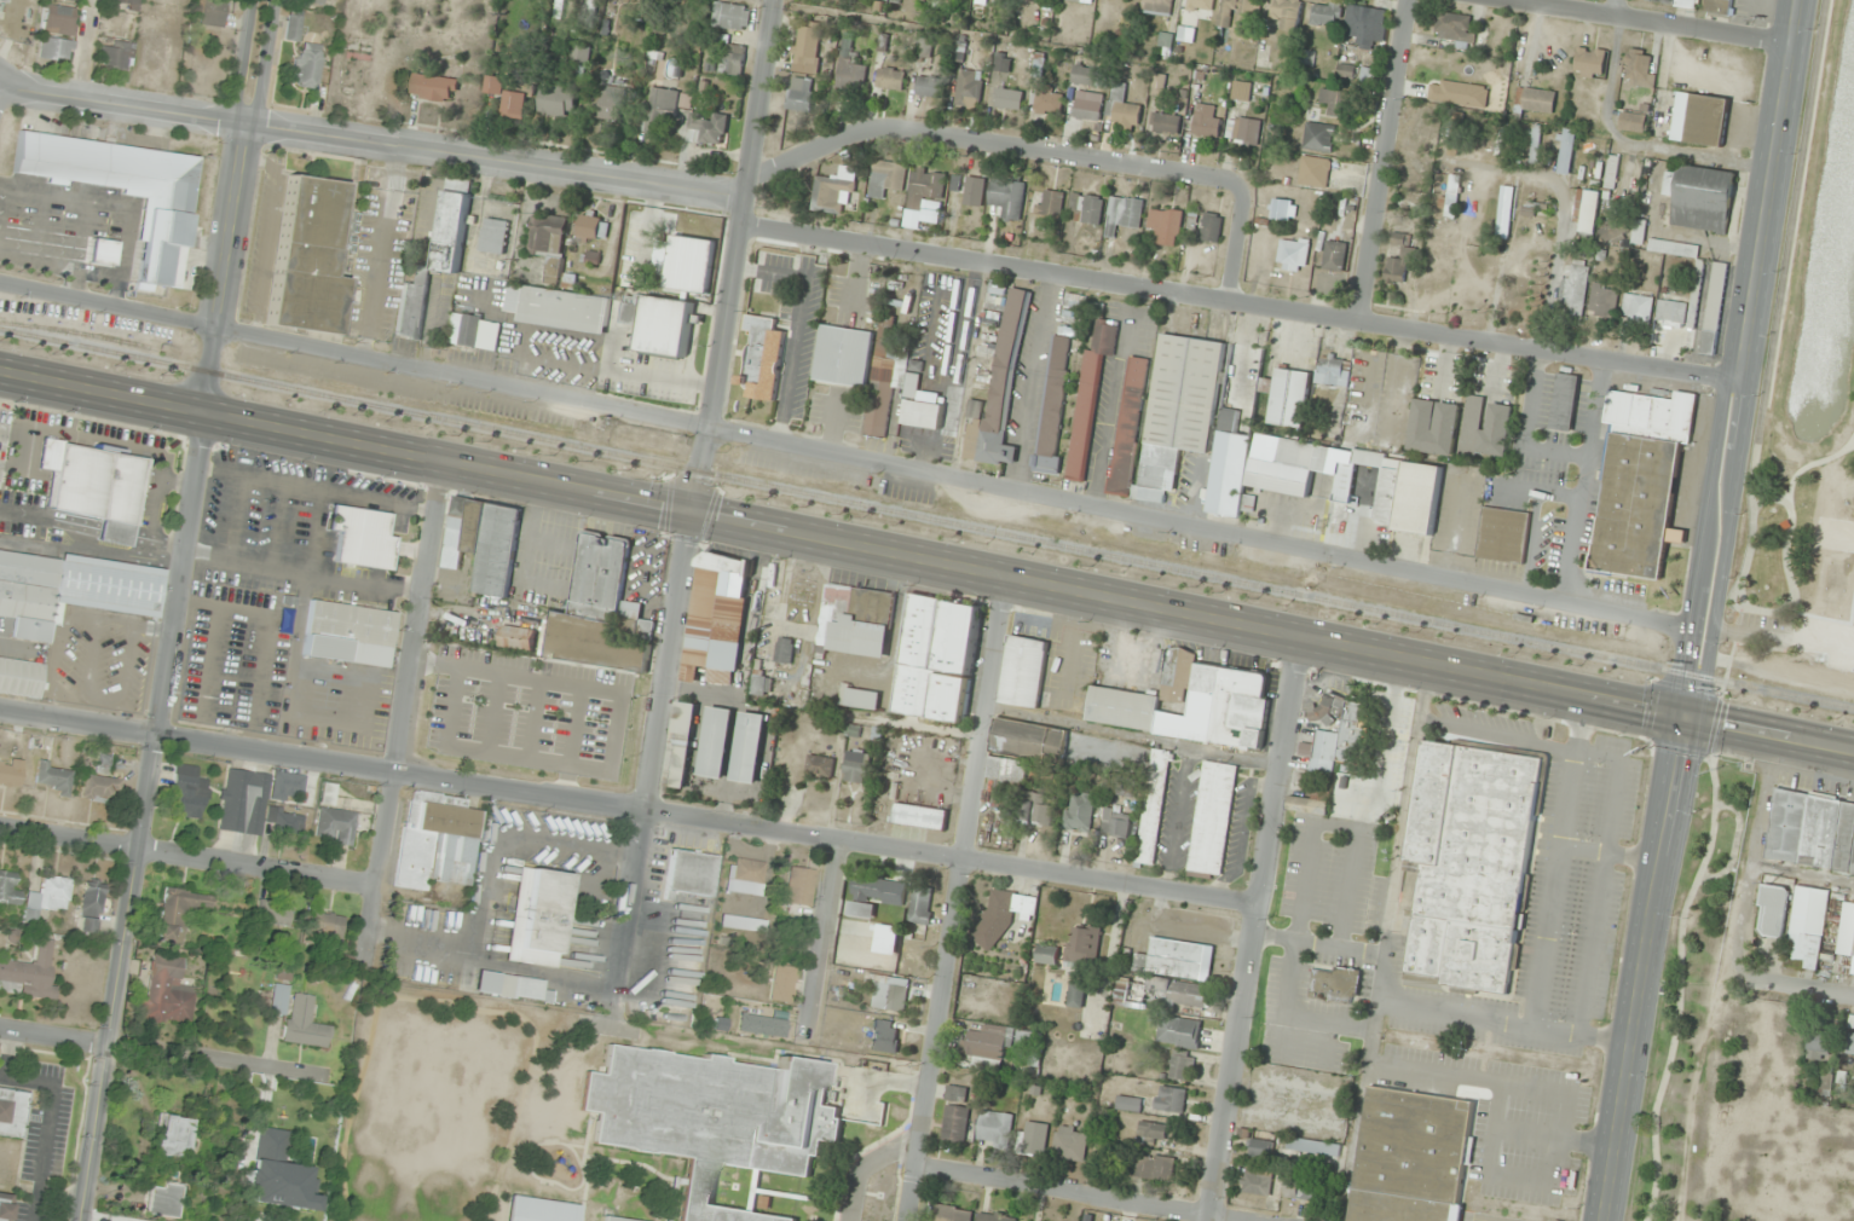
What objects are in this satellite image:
building: (6, 0)
building: (314, 1)
building: (1675, 2)
building: (126, 4)
building: (1197, 5)
building: (1156, 7)
building: (1719, 7)
road: (1617, 8)
building: (214, 12)
building: (1287, 13)
building: (1325, 15)
building: (732, 17)
building: (59, 18)
building: (1240, 18)
road: (1651, 22)
building: (1365, 25)
building: (294, 27)
building: (1454, 28)
building: (807, 47)
building: (56, 48)
building: (923, 50)
building: (156, 52)
building: (117, 53)
building: (581, 54)
building: (730, 60)
building: (1001, 62)
building: (1589, 63)
building: (310, 64)
building: (1639, 68)
building: (850, 69)
building: (1084, 76)
building: (890, 79)
building: (1159, 82)
building: (929, 86)
building: (433, 88)
building: (969, 88)
building: (1241, 91)
building: (509, 96)
building: (801, 98)
building: (1009, 99)
building: (558, 100)
building: (1534, 100)
building: (612, 103)
building: (1047, 103)
building: (1336, 103)
building: (664, 106)
building: (1087, 106)
building: (1122, 109)
building: (1699, 120)
building: (1206, 121)
building: (1631, 122)
building: (1166, 123)
building: (707, 129)
building: (1243, 129)
building: (1454, 135)
building: (1319, 138)
road: (374, 139)
building: (1535, 144)
road: (988, 145)
building: (1566, 151)
road: (1382, 161)
building: (1315, 172)
building: (1611, 172)
building: (885, 179)
building: (122, 186)
building: (926, 187)
building: (974, 191)
building: (832, 195)
building: (1006, 198)
building: (1409, 198)
building: (1699, 198)
building: (1450, 199)
road: (233, 204)
building: (1049, 204)
building: (1086, 209)
building: (1536, 209)
building: (1282, 210)
building: (1503, 212)
building: (1586, 212)
building: (1124, 214)
building: (930, 216)
road: (1790, 221)
building: (1163, 226)
building: (1211, 227)
building: (591, 228)
building: (1615, 230)
building: (450, 231)
building: (1638, 232)
building: (548, 235)
building: (493, 236)
road: (1238, 241)
building: (1673, 249)
building: (308, 255)
building: (1292, 255)
road: (737, 256)
building: (1334, 256)
building: (1398, 262)
building: (554, 267)
building: (1572, 291)
road: (1240, 301)
building: (1602, 301)
building: (412, 305)
building: (558, 308)
building: (1636, 308)
building: (1714, 308)
building: (1675, 323)
building: (659, 324)
building: (473, 331)
railway: (81, 332)
building: (843, 357)
road: (1742, 358)
building: (762, 360)
building: (1333, 371)
building: (880, 383)
building: (998, 390)
building: (1088, 392)
building: (1288, 398)
building: (1563, 403)
building: (1051, 404)
park: (1807, 405)
building: (1652, 412)
building: (1163, 415)
building: (1433, 428)
building: (1485, 428)
building: (1234, 430)
building: (4, 438)
road: (1849, 441)
road: (1849, 447)
road: (851, 455)
building: (1282, 465)
road: (1806, 465)
building: (99, 488)
building: (1405, 493)
road: (1757, 493)
building: (1342, 497)
building: (1636, 507)
street lamp: (1772, 510)
traffic signals: (691, 513)
railway: (926, 516)
building: (1502, 536)
building: (362, 537)
building: (483, 543)
road: (926, 562)
building: (70, 590)
road: (1738, 603)
building: (596, 610)
road: (1757, 610)
building: (716, 618)
road: (1737, 626)
building: (849, 629)
parking lot: (1762, 630)
road: (1743, 632)
building: (348, 633)
building: (784, 654)
building: (936, 659)
road: (1729, 667)
building: (1022, 672)
building: (21, 676)
building: (861, 700)
building: (1188, 704)
building: (1329, 710)
road: (408, 713)
traffic signals: (1687, 718)
building: (1391, 722)
road: (1711, 723)
building: (1028, 740)
building: (716, 742)
building: (680, 745)
building: (749, 747)
building: (1321, 751)
road: (654, 757)
building: (103, 765)
building: (819, 766)
building: (856, 766)
building: (1006, 771)
building: (10, 772)
building: (52, 777)
building: (1125, 788)
building: (100, 789)
building: (187, 792)
building: (1306, 805)
building: (1153, 806)
building: (1036, 810)
building: (1078, 812)
road: (693, 815)
road: (149, 816)
building: (919, 817)
building: (334, 820)
building: (1211, 820)
building: (1115, 823)
building: (1812, 833)
building: (435, 840)
road: (1734, 846)
road: (191, 855)
building: (1469, 866)
building: (691, 873)
building: (746, 876)
building: (801, 886)
building: (8, 887)
building: (878, 892)
building: (50, 895)
building: (92, 897)
road: (957, 899)
building: (920, 905)
building: (179, 913)
building: (272, 914)
building: (1003, 915)
building: (536, 916)
building: (87, 924)
building: (743, 924)
building: (1771, 924)
road: (831, 927)
building: (323, 928)
building: (1807, 928)
road: (1258, 931)
building: (1082, 947)
building: (1046, 955)
road: (1647, 970)
building: (31, 973)
building: (1167, 974)
building: (782, 984)
building: (1334, 985)
building: (510, 986)
road: (1679, 986)
road: (1807, 989)
building: (167, 993)
building: (890, 995)
building: (1076, 995)
building: (278, 999)
building: (305, 1023)
building: (762, 1024)
building: (1179, 1032)
road: (56, 1035)
building: (885, 1036)
building: (986, 1043)
building: (1819, 1043)
building: (1850, 1044)
building: (1179, 1067)
building: (1171, 1100)
building: (1128, 1105)
building: (12, 1112)
building: (712, 1117)
building: (954, 1123)
building: (994, 1129)
building: (1153, 1132)
building: (172, 1138)
building: (1034, 1139)
building: (1070, 1145)
building: (1296, 1155)
building: (1410, 1157)
road: (865, 1164)
building: (1154, 1169)
building: (1257, 1182)
building: (1306, 1191)
road: (1080, 1193)
building: (163, 1200)
building: (5, 1206)
building: (539, 1210)
building: (951, 1214)
building: (993, 1217)
building: (614, 1219)
building: (1029, 1220)

